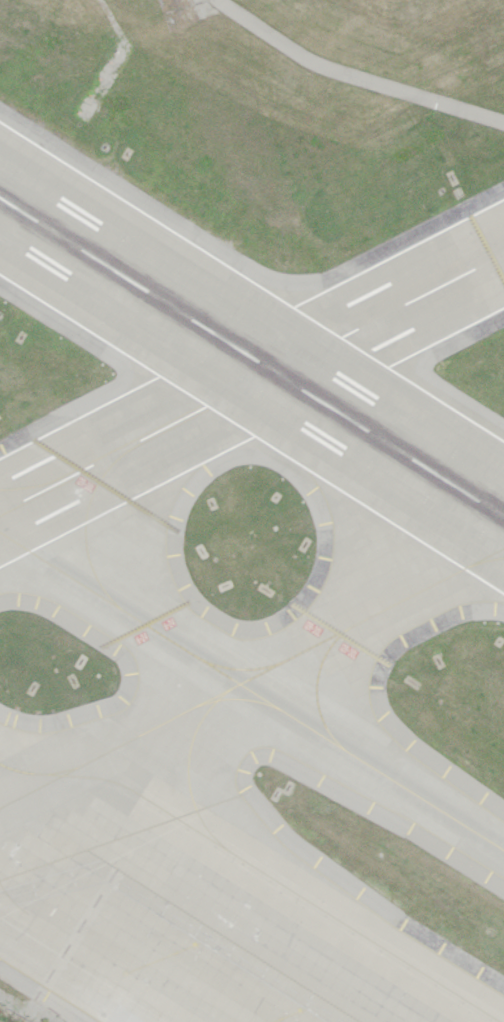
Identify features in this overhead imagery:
road: (116, 57)
road: (354, 75)
airport runway: (252, 358)
airport runway: (252, 384)
airport taxiway: (103, 453)
airport: (252, 511)
airport taxiway: (85, 528)
airport taxiway: (11, 537)
airport taxiway: (484, 560)
airport taxiway: (238, 667)
airport taxiway: (252, 677)
airport taxiway: (317, 682)
airport taxiway: (262, 697)
airport taxiway: (242, 698)
airport taxiway: (188, 770)
airport taxiway: (258, 869)
road: (179, 916)
airport taxiway: (64, 935)
airport apron: (171, 937)

